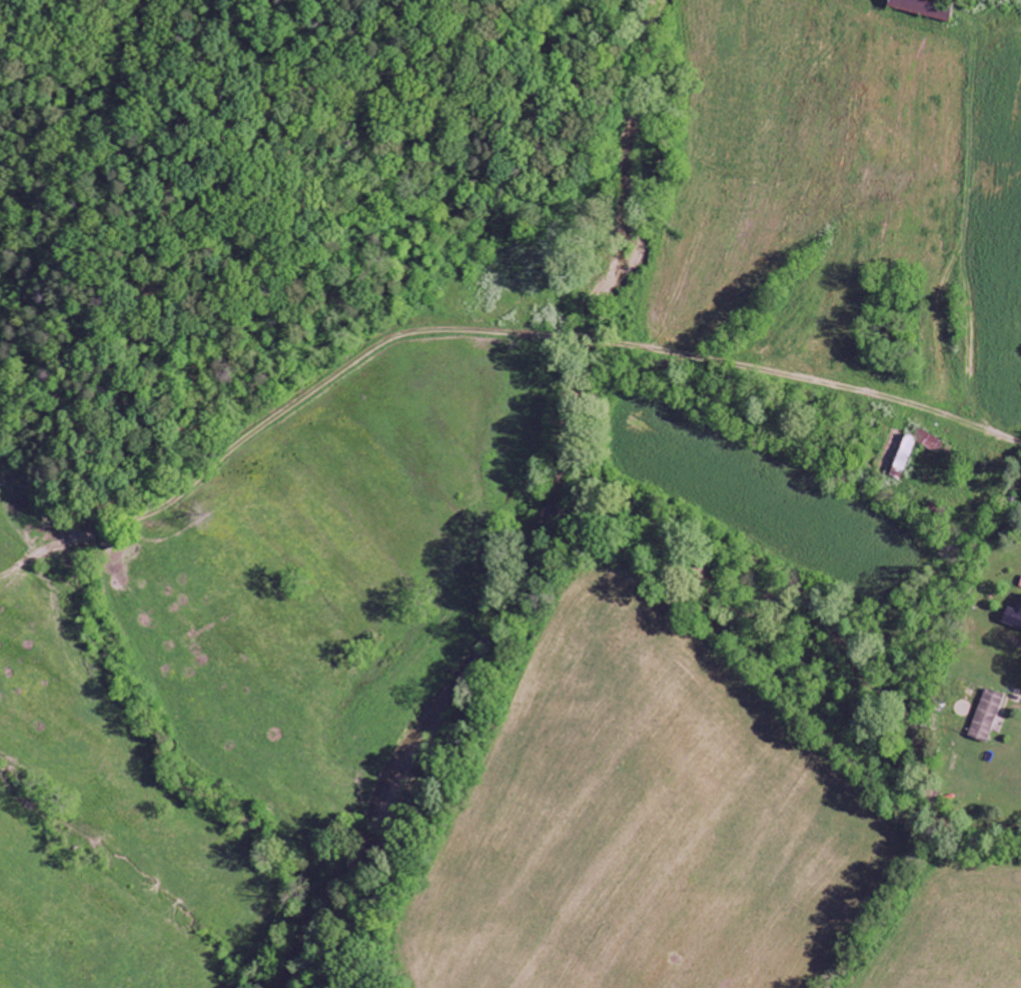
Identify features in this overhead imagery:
building: (920, 9)
road: (1012, 418)
building: (899, 465)
building: (1020, 587)
building: (1013, 618)
building: (986, 716)

